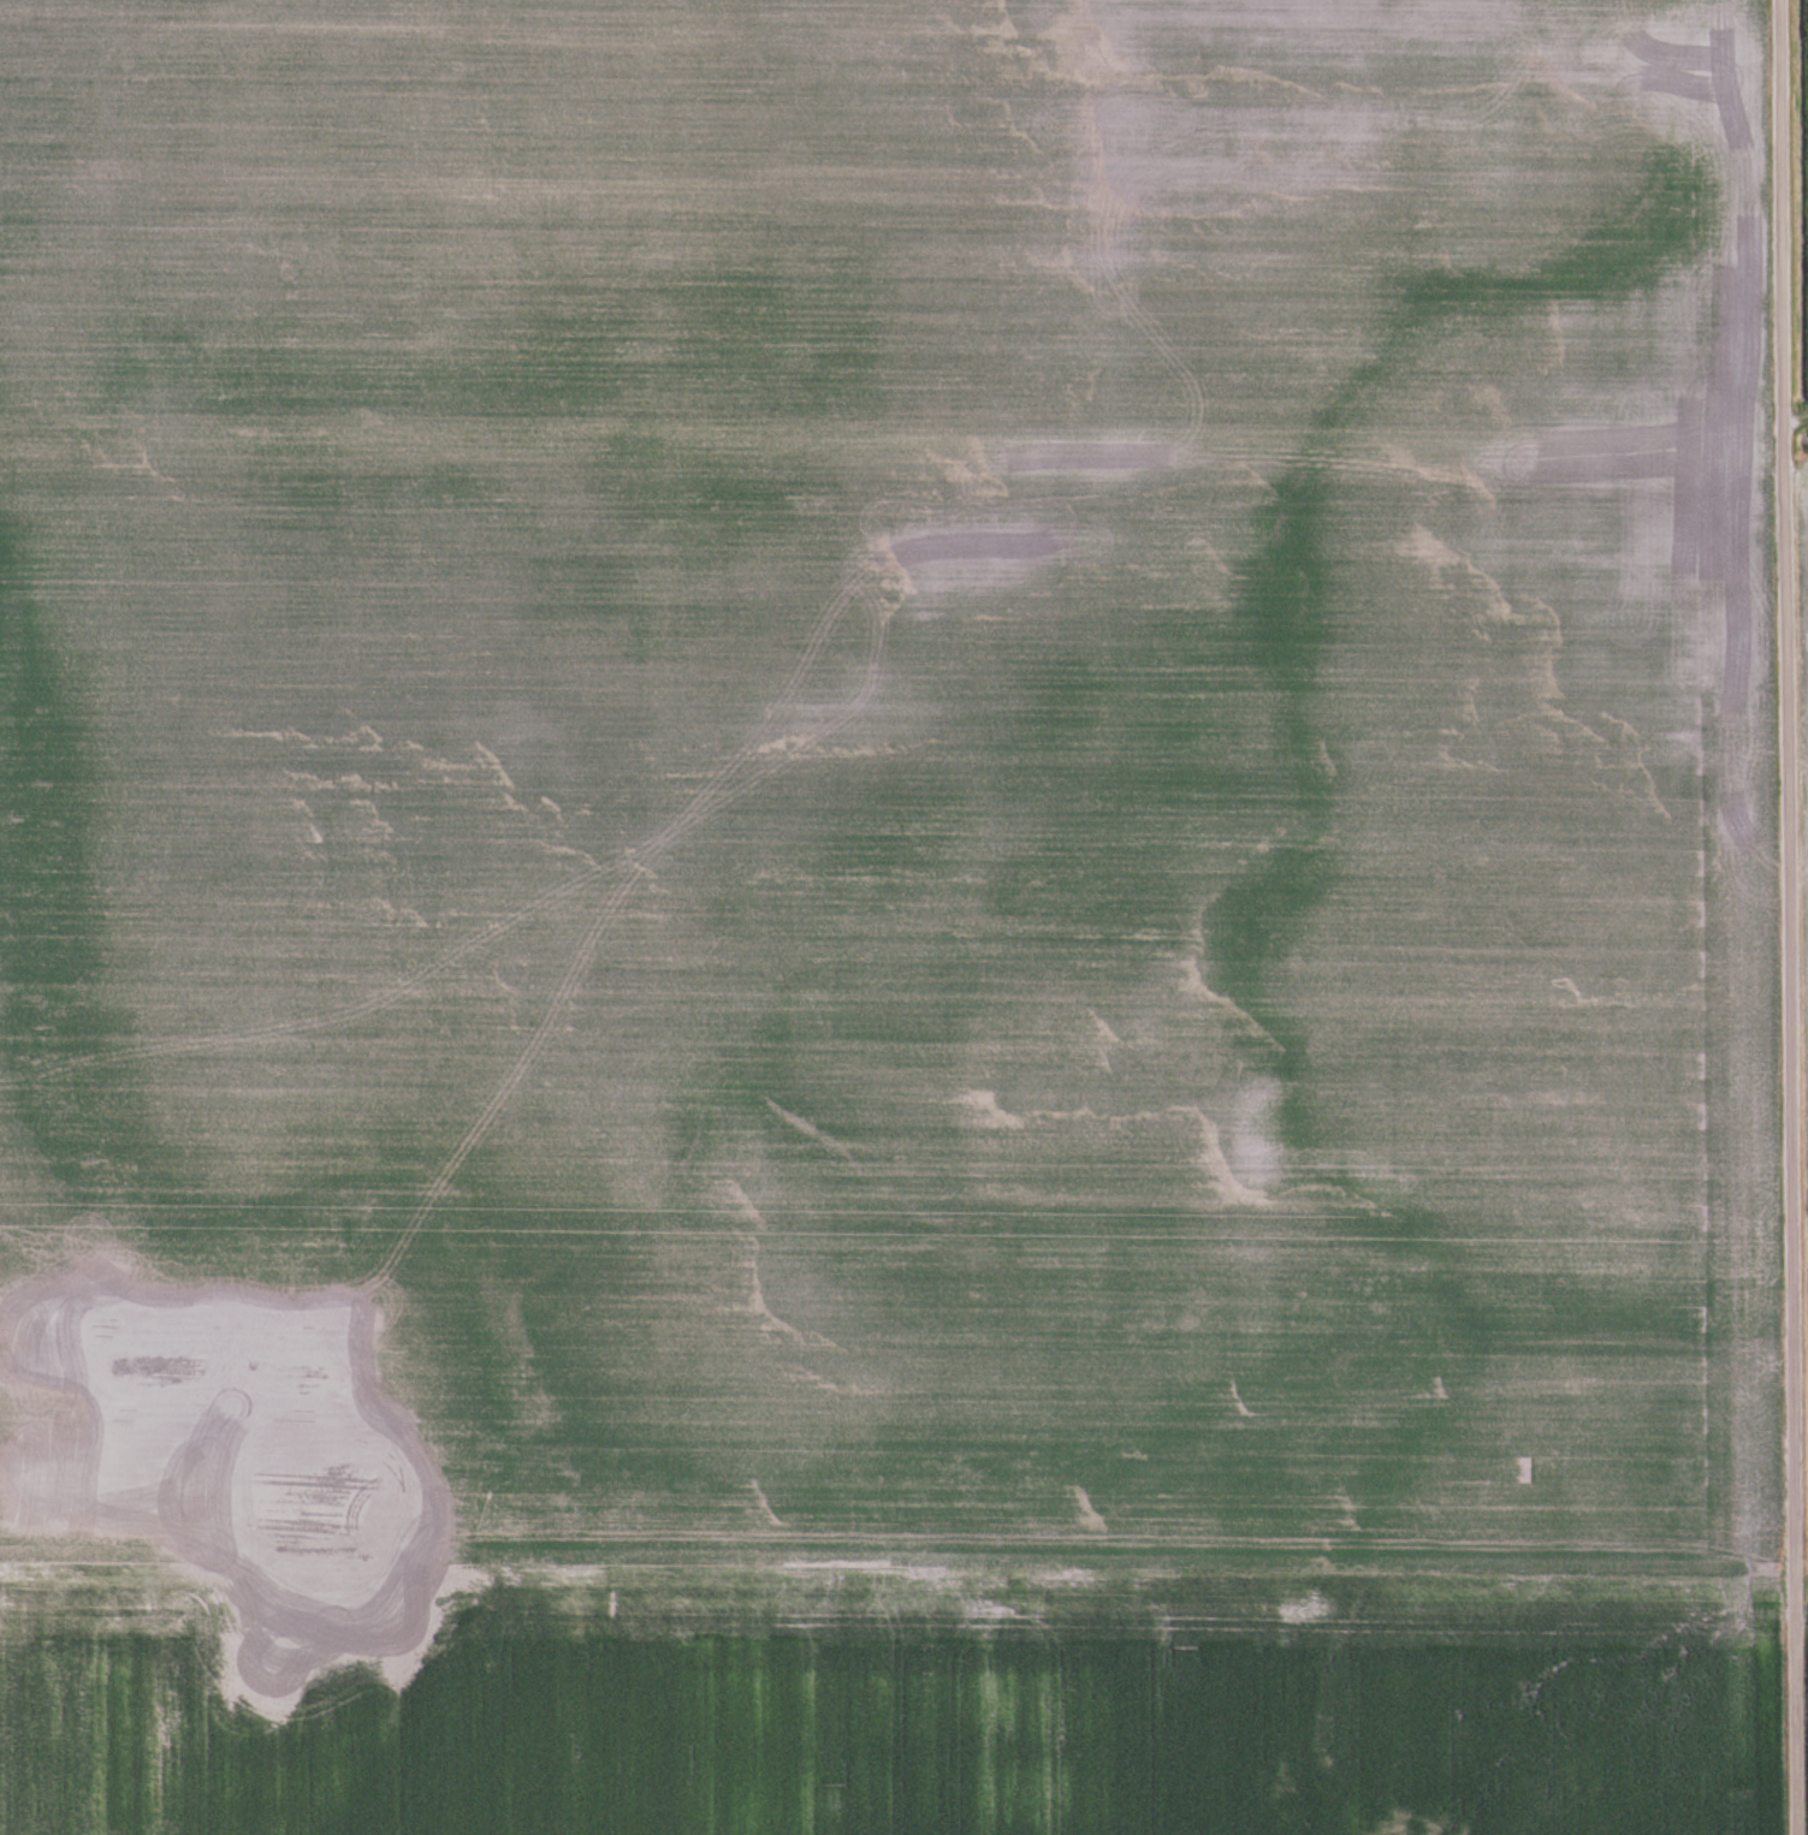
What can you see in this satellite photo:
road: (1791, 916)
crop: (888, 919)
crop: (1807, 1467)

